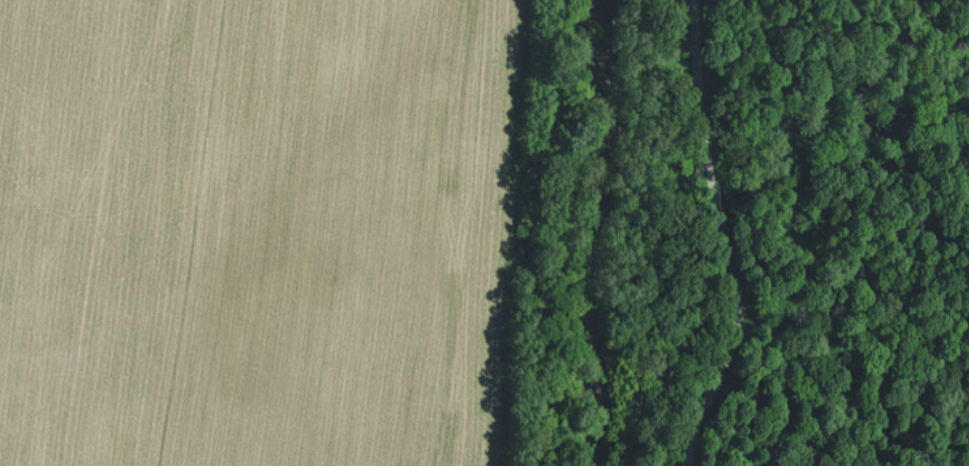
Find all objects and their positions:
road: (702, 232)
river: (640, 234)

